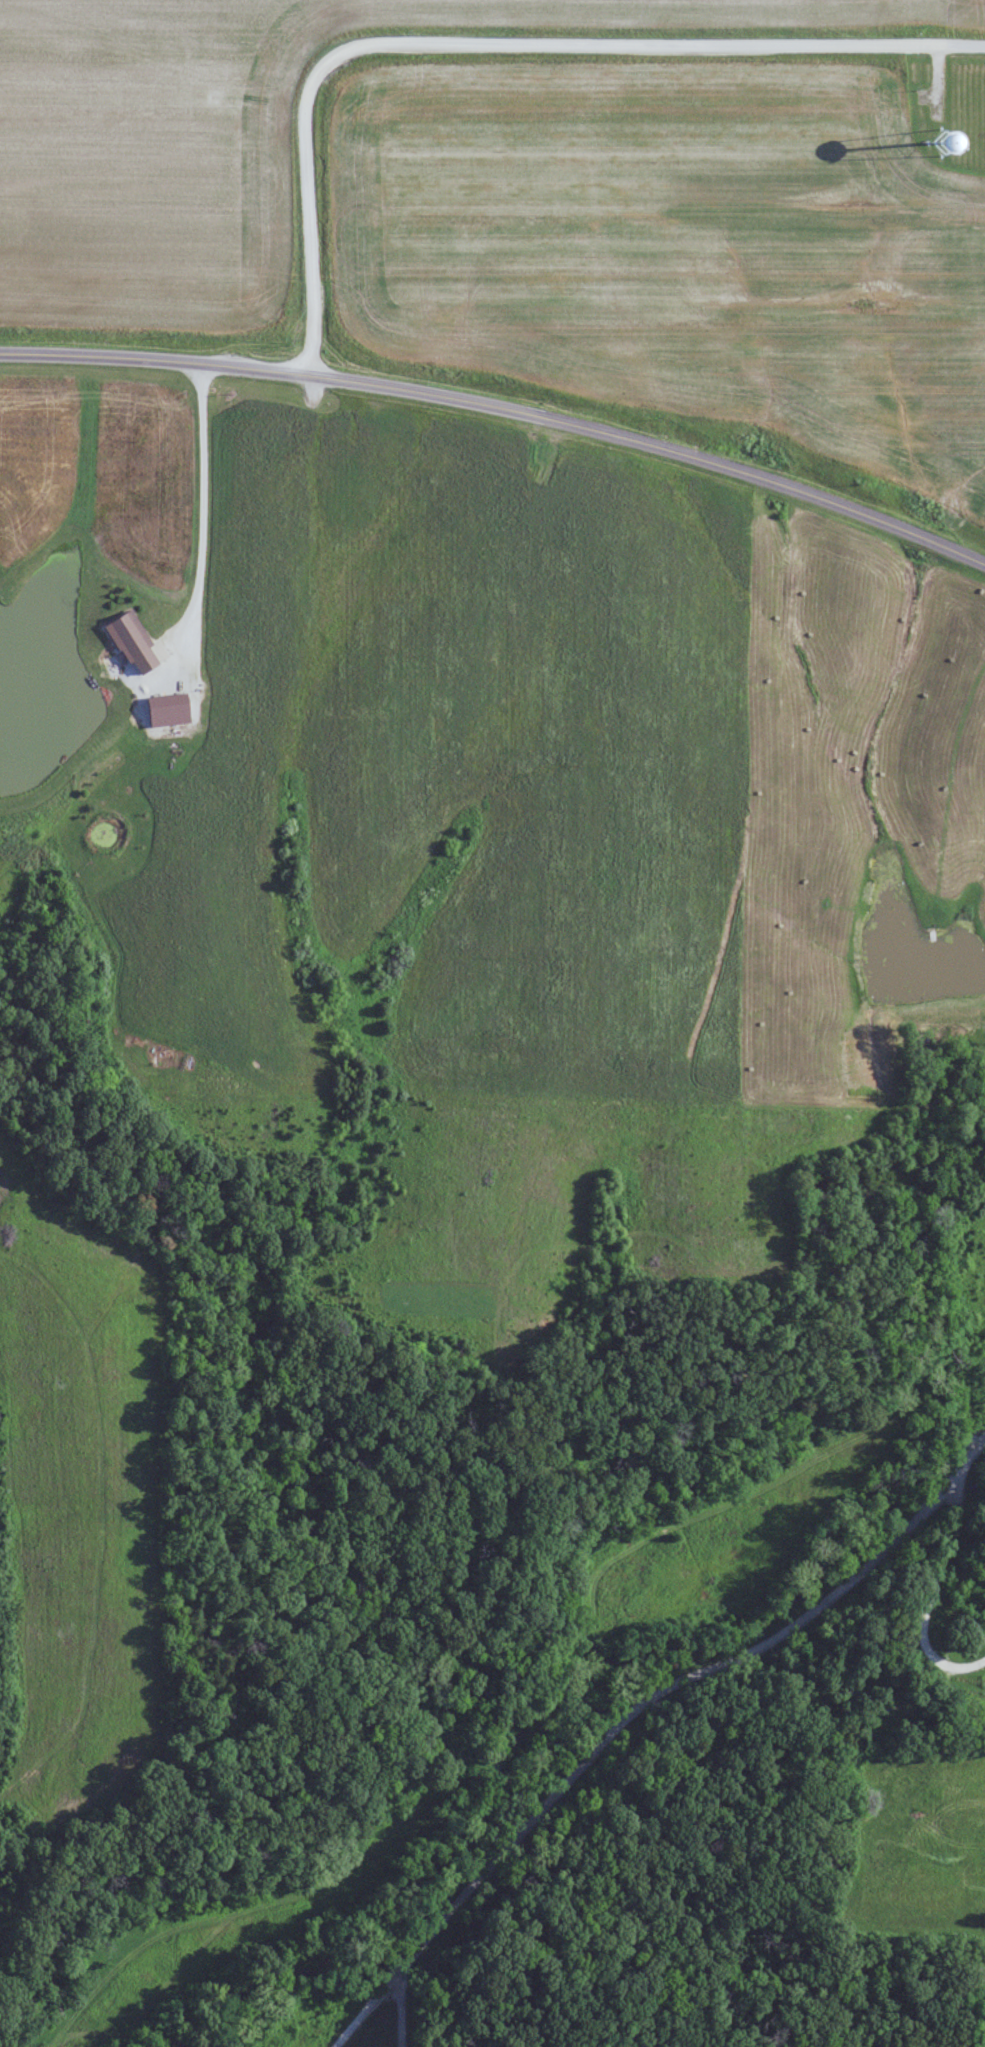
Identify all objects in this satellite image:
road: (491, 45)
road: (502, 407)
building: (129, 641)
building: (165, 709)
road: (952, 1537)
road: (635, 1712)
road: (391, 2014)

